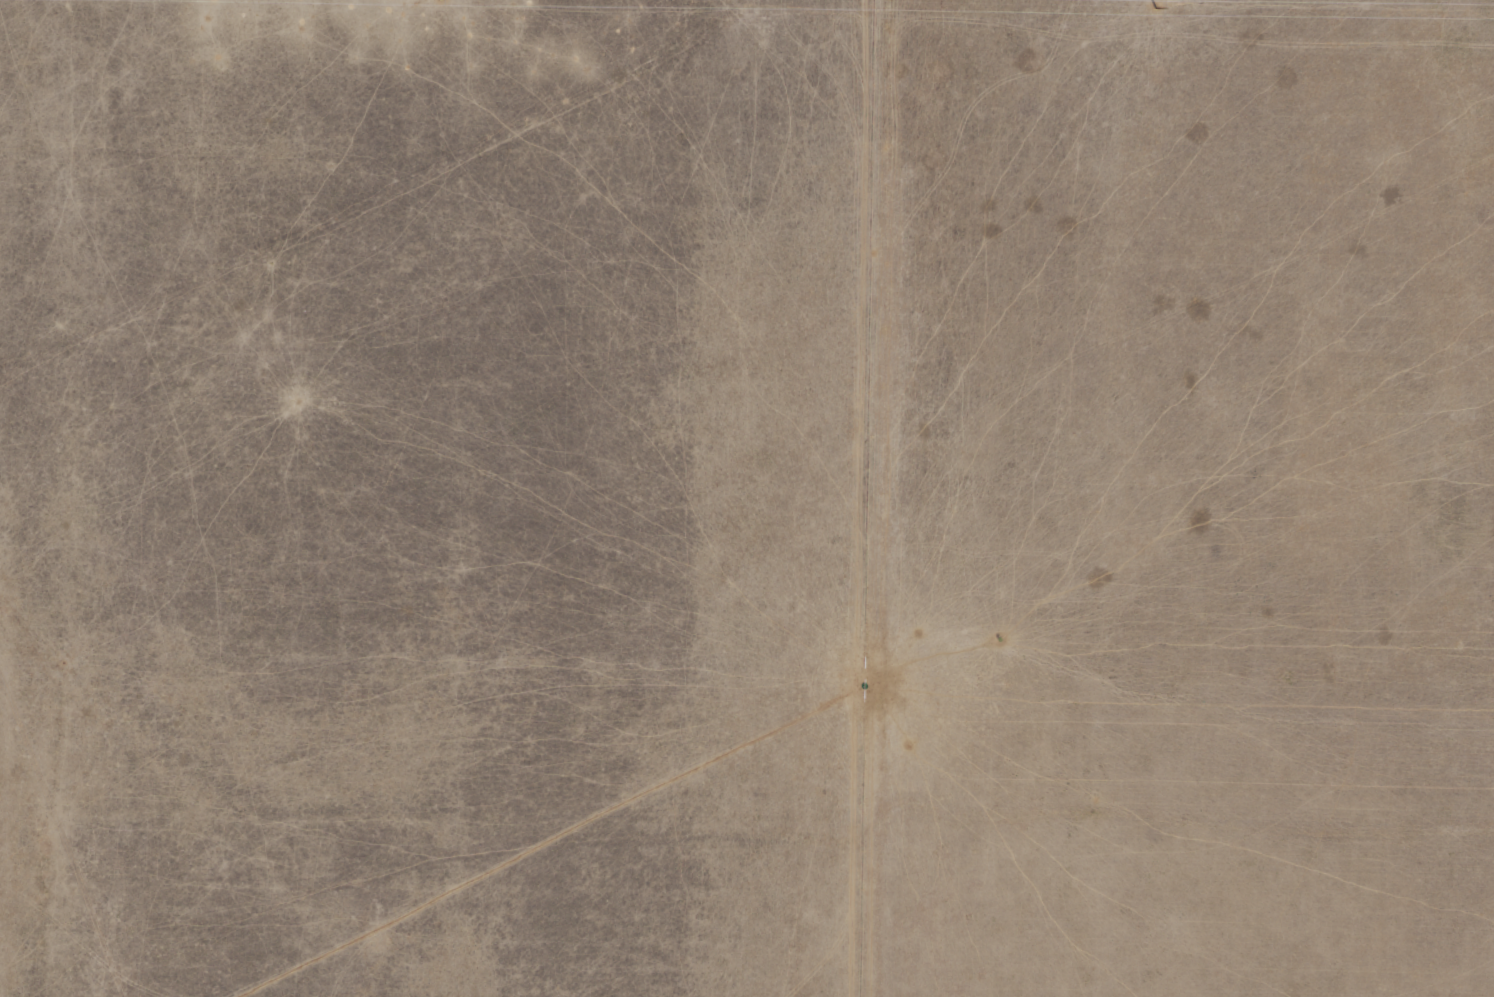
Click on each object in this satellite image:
power tower: (440, 1)
power tower: (1154, 8)

